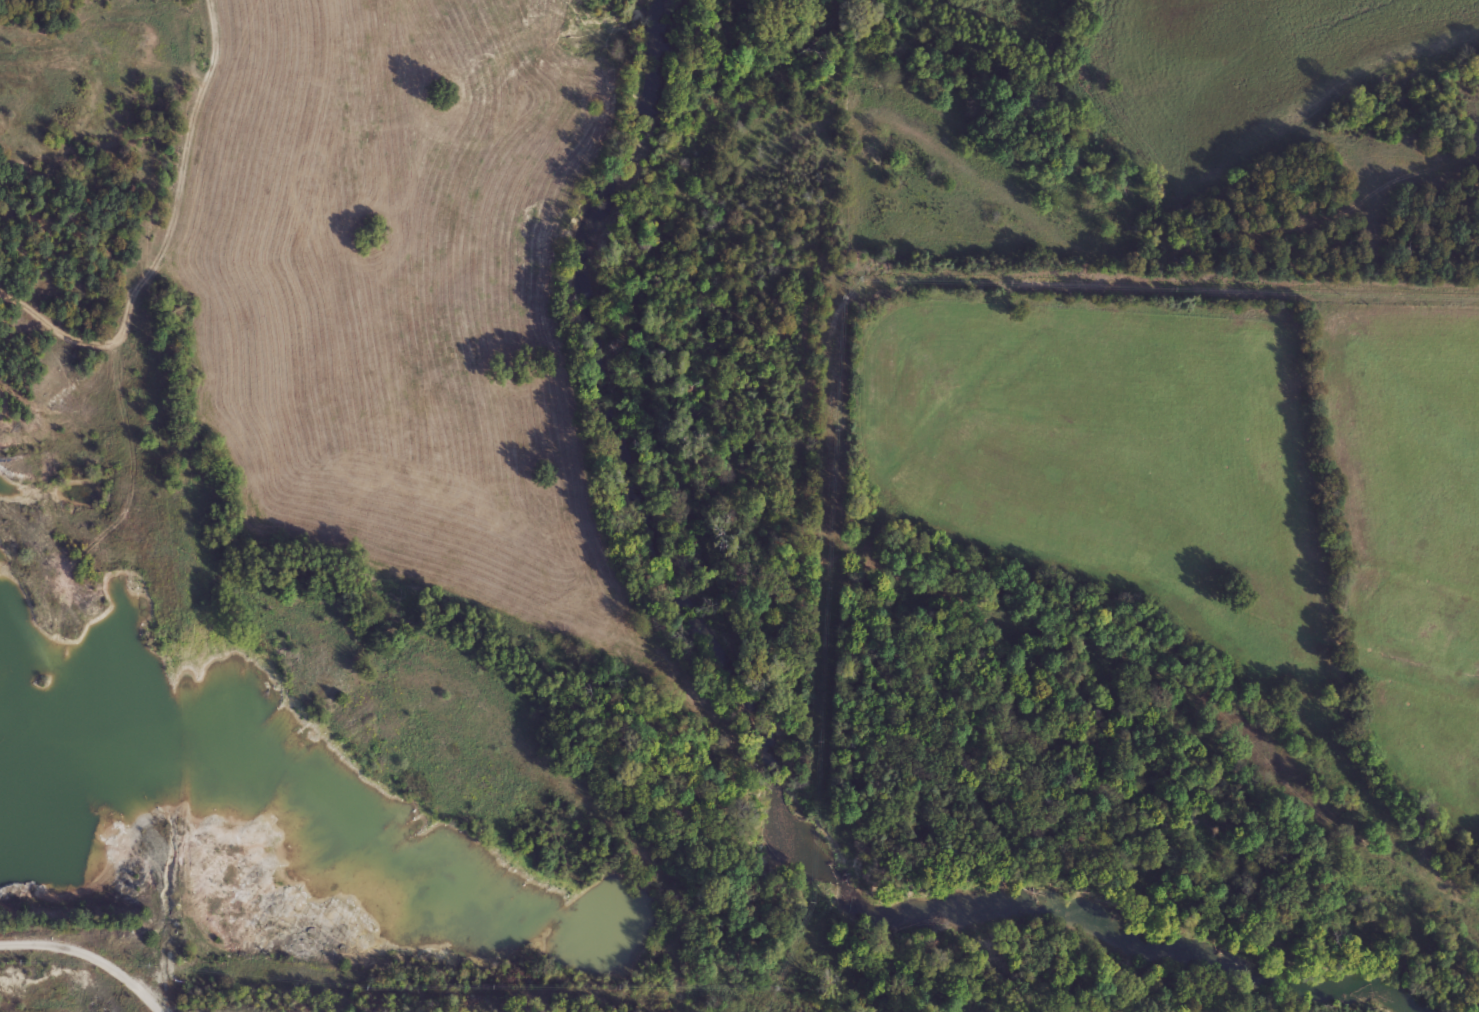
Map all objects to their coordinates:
road: (91, 960)

